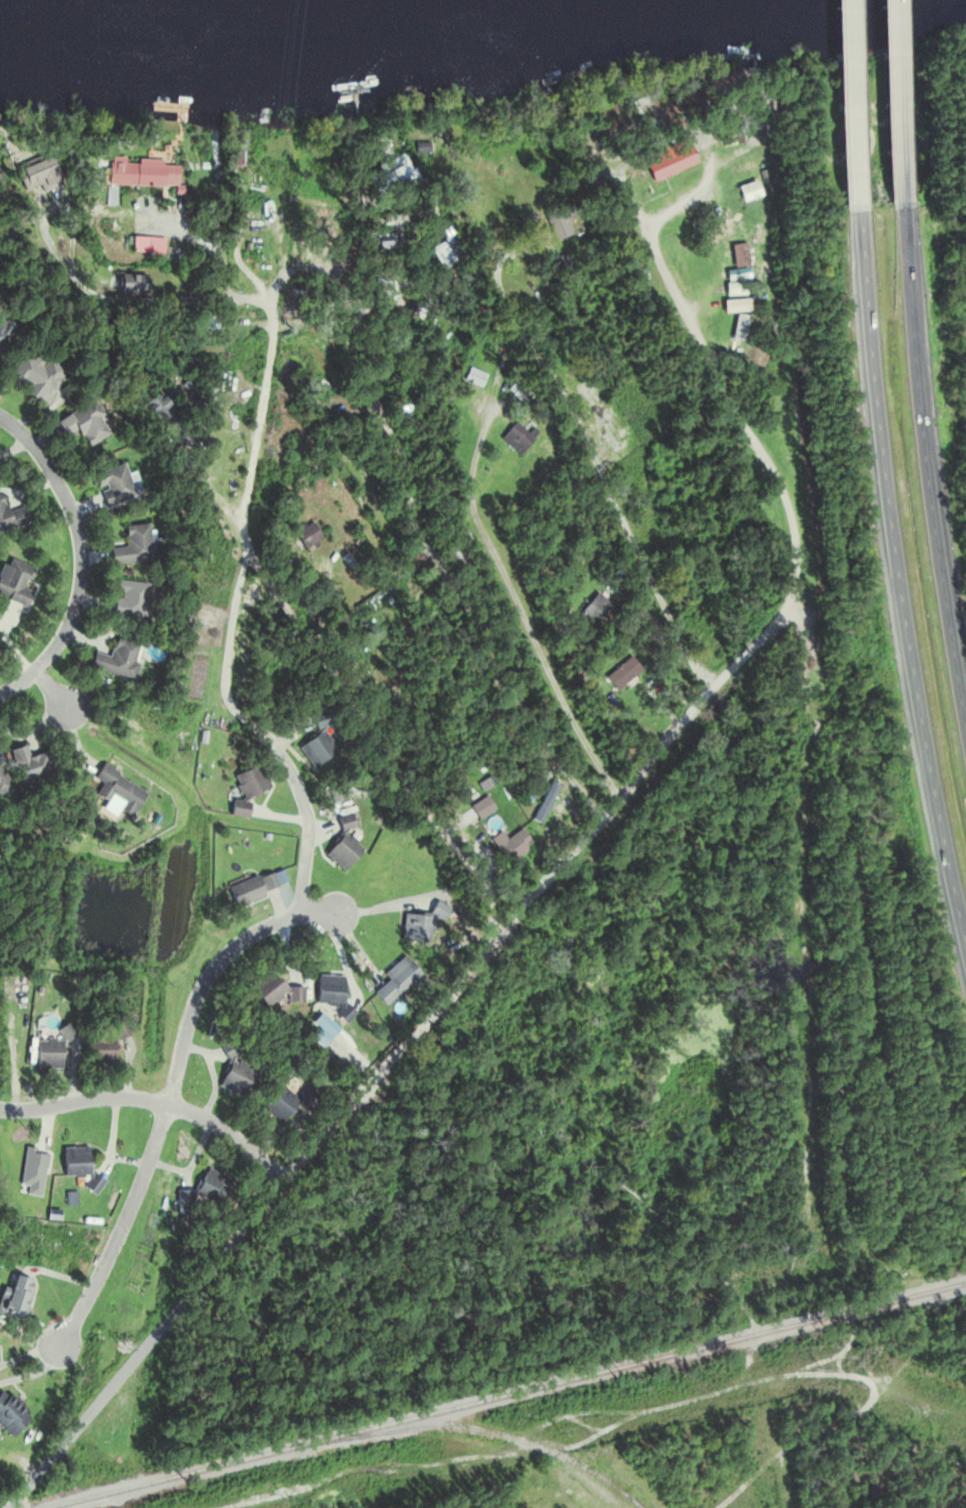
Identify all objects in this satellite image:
road: (849, 100)
road: (894, 110)
building: (728, 141)
building: (668, 161)
building: (36, 173)
building: (140, 173)
power tower: (282, 175)
building: (386, 178)
building: (745, 195)
building: (557, 222)
building: (384, 244)
building: (444, 252)
building: (129, 283)
road: (126, 298)
building: (36, 376)
building: (474, 378)
road: (716, 378)
building: (333, 414)
building: (82, 423)
building: (521, 430)
road: (587, 453)
road: (198, 476)
road: (924, 483)
building: (114, 487)
building: (11, 518)
road: (241, 518)
building: (301, 540)
building: (135, 545)
road: (432, 554)
road: (79, 558)
building: (13, 583)
power tower: (223, 585)
road: (898, 587)
building: (131, 599)
building: (594, 608)
road: (518, 611)
building: (117, 660)
building: (623, 673)
road: (52, 691)
building: (317, 741)
building: (30, 766)
building: (250, 781)
building: (2, 782)
building: (117, 792)
road: (301, 802)
building: (544, 803)
building: (515, 844)
building: (342, 848)
building: (250, 888)
building: (414, 929)
building: (395, 981)
power tower: (171, 986)
building: (331, 991)
building: (267, 992)
building: (50, 1051)
building: (98, 1053)
road: (397, 1053)
building: (233, 1074)
road: (170, 1096)
road: (153, 1101)
building: (282, 1104)
building: (74, 1163)
building: (209, 1187)
building: (14, 1299)
power tower: (823, 1367)
railway: (504, 1395)
building: (10, 1418)
railway: (473, 1430)
power tower: (556, 1430)
power tower: (283, 1500)

